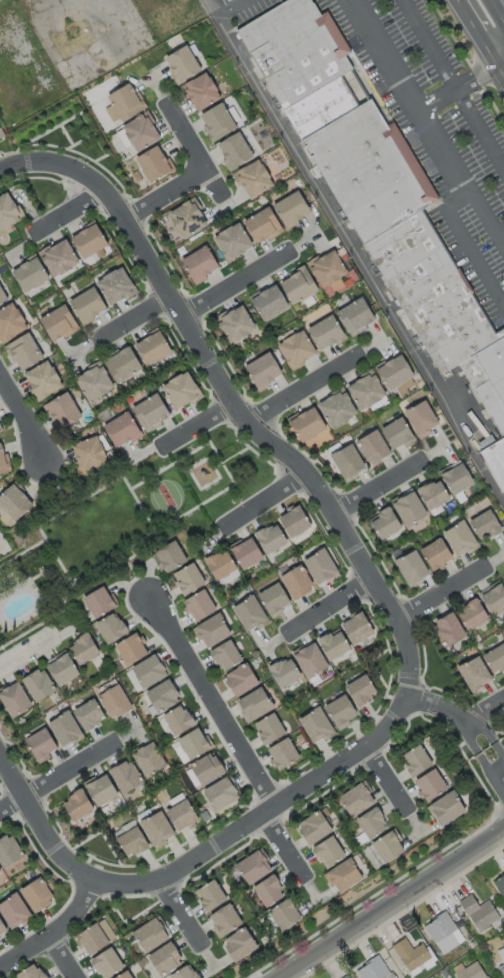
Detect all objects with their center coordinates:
road: (224, 5)
road: (500, 5)
road: (100, 7)
parking lot: (249, 7)
road: (188, 13)
road: (474, 30)
building: (72, 38)
road: (498, 57)
building: (183, 65)
road: (498, 70)
road: (455, 84)
road: (457, 89)
building: (202, 92)
building: (125, 103)
parking lot: (435, 117)
building: (219, 123)
road: (425, 124)
road: (49, 130)
building: (0, 134)
building: (143, 134)
road: (65, 135)
road: (78, 141)
road: (193, 148)
building: (237, 151)
road: (99, 159)
building: (154, 166)
road: (11, 178)
building: (256, 179)
road: (165, 192)
building: (378, 194)
building: (294, 209)
building: (7, 214)
road: (70, 214)
building: (189, 221)
building: (264, 227)
road: (502, 239)
building: (90, 242)
building: (234, 243)
road: (469, 244)
road: (355, 253)
road: (163, 255)
building: (61, 260)
building: (200, 266)
building: (330, 271)
building: (33, 276)
road: (236, 284)
building: (117, 288)
building: (300, 288)
parking lot: (491, 289)
building: (2, 297)
building: (88, 304)
building: (271, 304)
road: (134, 316)
building: (357, 317)
building: (11, 324)
building: (59, 325)
building: (237, 326)
building: (329, 333)
building: (152, 350)
building: (299, 350)
building: (26, 354)
building: (125, 365)
building: (265, 371)
building: (395, 373)
building: (44, 382)
building: (98, 385)
road: (303, 388)
building: (182, 392)
building: (368, 392)
building: (339, 410)
road: (24, 412)
building: (65, 412)
building: (152, 413)
building: (424, 419)
road: (229, 422)
road: (200, 427)
building: (309, 428)
building: (122, 430)
building: (0, 431)
building: (400, 436)
building: (374, 449)
building: (91, 455)
building: (3, 462)
building: (349, 464)
road: (191, 475)
road: (155, 478)
building: (460, 479)
road: (380, 486)
road: (59, 490)
park: (166, 495)
building: (437, 495)
road: (63, 500)
road: (264, 501)
building: (16, 506)
building: (412, 509)
road: (142, 510)
road: (177, 514)
building: (296, 522)
building: (386, 523)
building: (487, 525)
building: (274, 539)
building: (461, 539)
road: (22, 552)
building: (249, 553)
building: (438, 553)
building: (172, 556)
road: (125, 560)
road: (58, 561)
building: (224, 565)
building: (287, 566)
building: (322, 567)
building: (414, 568)
road: (130, 570)
building: (503, 578)
building: (190, 579)
building: (299, 583)
road: (443, 593)
building: (276, 599)
building: (496, 600)
building: (100, 602)
building: (200, 606)
road: (331, 607)
road: (393, 612)
building: (251, 613)
building: (475, 616)
road: (50, 618)
building: (113, 627)
building: (358, 629)
building: (214, 631)
building: (449, 631)
building: (335, 644)
road: (25, 648)
building: (133, 649)
building: (86, 650)
building: (228, 657)
building: (496, 659)
building: (313, 660)
road: (373, 665)
building: (63, 668)
building: (150, 670)
building: (287, 673)
building: (476, 674)
building: (243, 680)
building: (39, 685)
building: (364, 689)
road: (429, 690)
building: (165, 697)
building: (16, 700)
road: (211, 701)
building: (116, 702)
building: (256, 704)
road: (441, 707)
building: (342, 711)
road: (487, 712)
building: (90, 714)
building: (180, 721)
building: (317, 726)
building: (65, 729)
building: (270, 729)
road: (448, 731)
road: (496, 731)
road: (484, 732)
road: (470, 739)
building: (42, 744)
building: (195, 744)
building: (284, 754)
road: (499, 754)
building: (151, 761)
building: (418, 761)
building: (209, 769)
road: (496, 770)
road: (57, 775)
building: (128, 776)
road: (490, 776)
road: (391, 778)
building: (432, 785)
road: (36, 786)
building: (102, 790)
building: (223, 795)
building: (358, 801)
building: (79, 807)
building: (448, 809)
building: (185, 815)
building: (373, 824)
building: (315, 828)
building: (159, 829)
road: (102, 836)
building: (134, 843)
road: (241, 846)
road: (282, 846)
building: (386, 850)
building: (10, 851)
building: (330, 852)
building: (255, 868)
building: (1, 872)
building: (345, 876)
building: (500, 884)
building: (271, 892)
road: (376, 892)
building: (38, 896)
building: (212, 896)
road: (394, 904)
road: (182, 911)
building: (15, 912)
building: (481, 912)
building: (287, 915)
building: (225, 921)
building: (3, 928)
building: (440, 928)
road: (56, 933)
building: (153, 936)
building: (93, 939)
building: (241, 945)
building: (501, 953)
building: (413, 956)
road: (63, 958)
building: (167, 959)
building: (109, 964)
building: (378, 970)
building: (472, 970)
building: (33, 972)
building: (187, 974)
building: (127, 976)
building: (348, 977)

